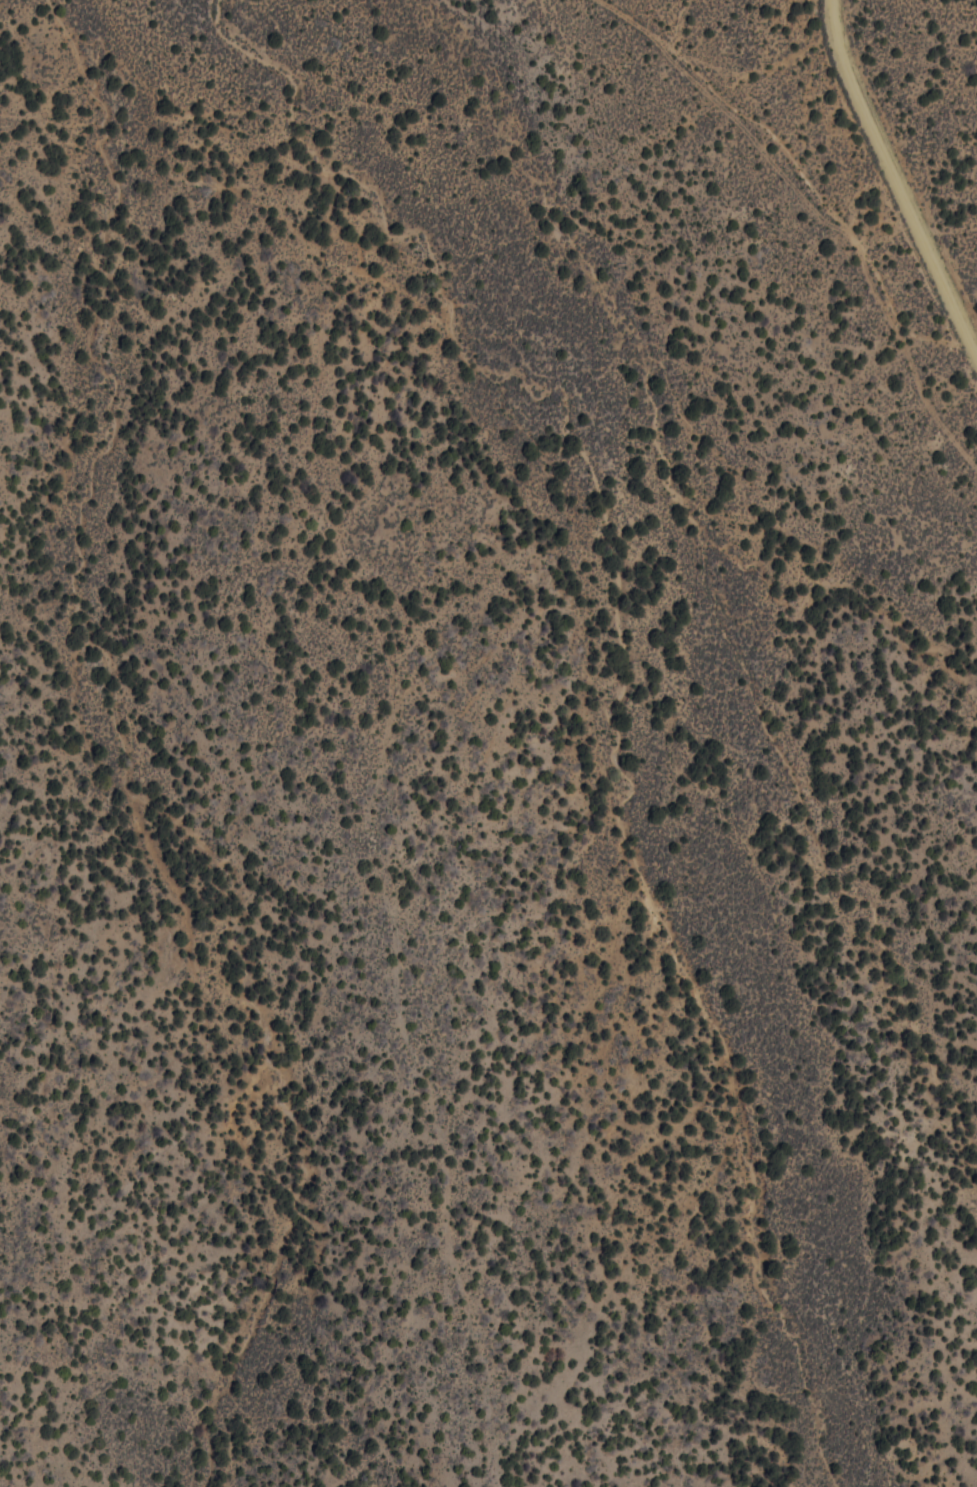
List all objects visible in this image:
road: (895, 179)

